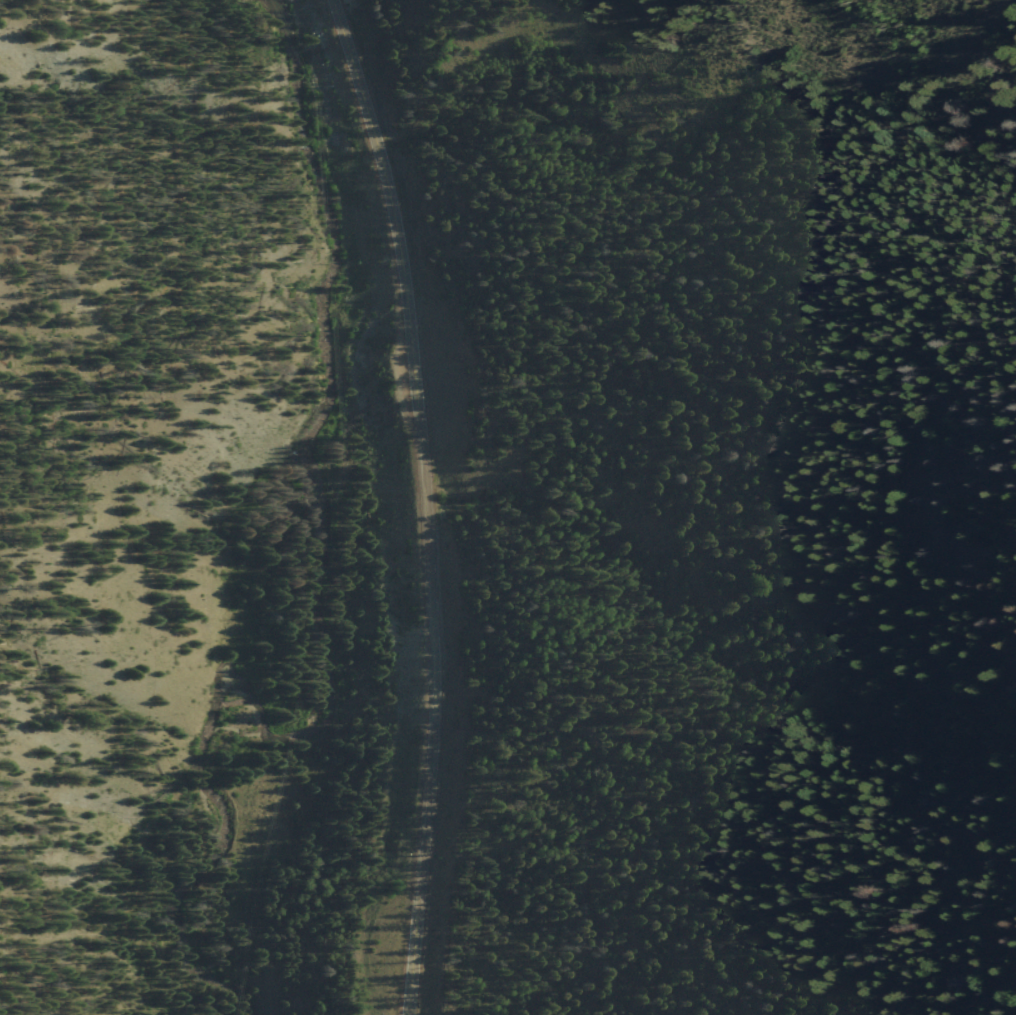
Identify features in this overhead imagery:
road: (422, 503)

